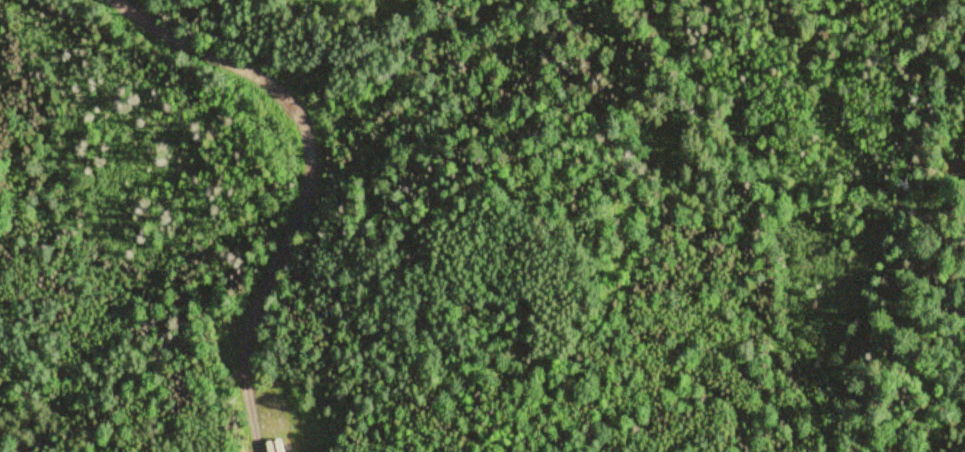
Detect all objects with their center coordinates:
road: (303, 173)

